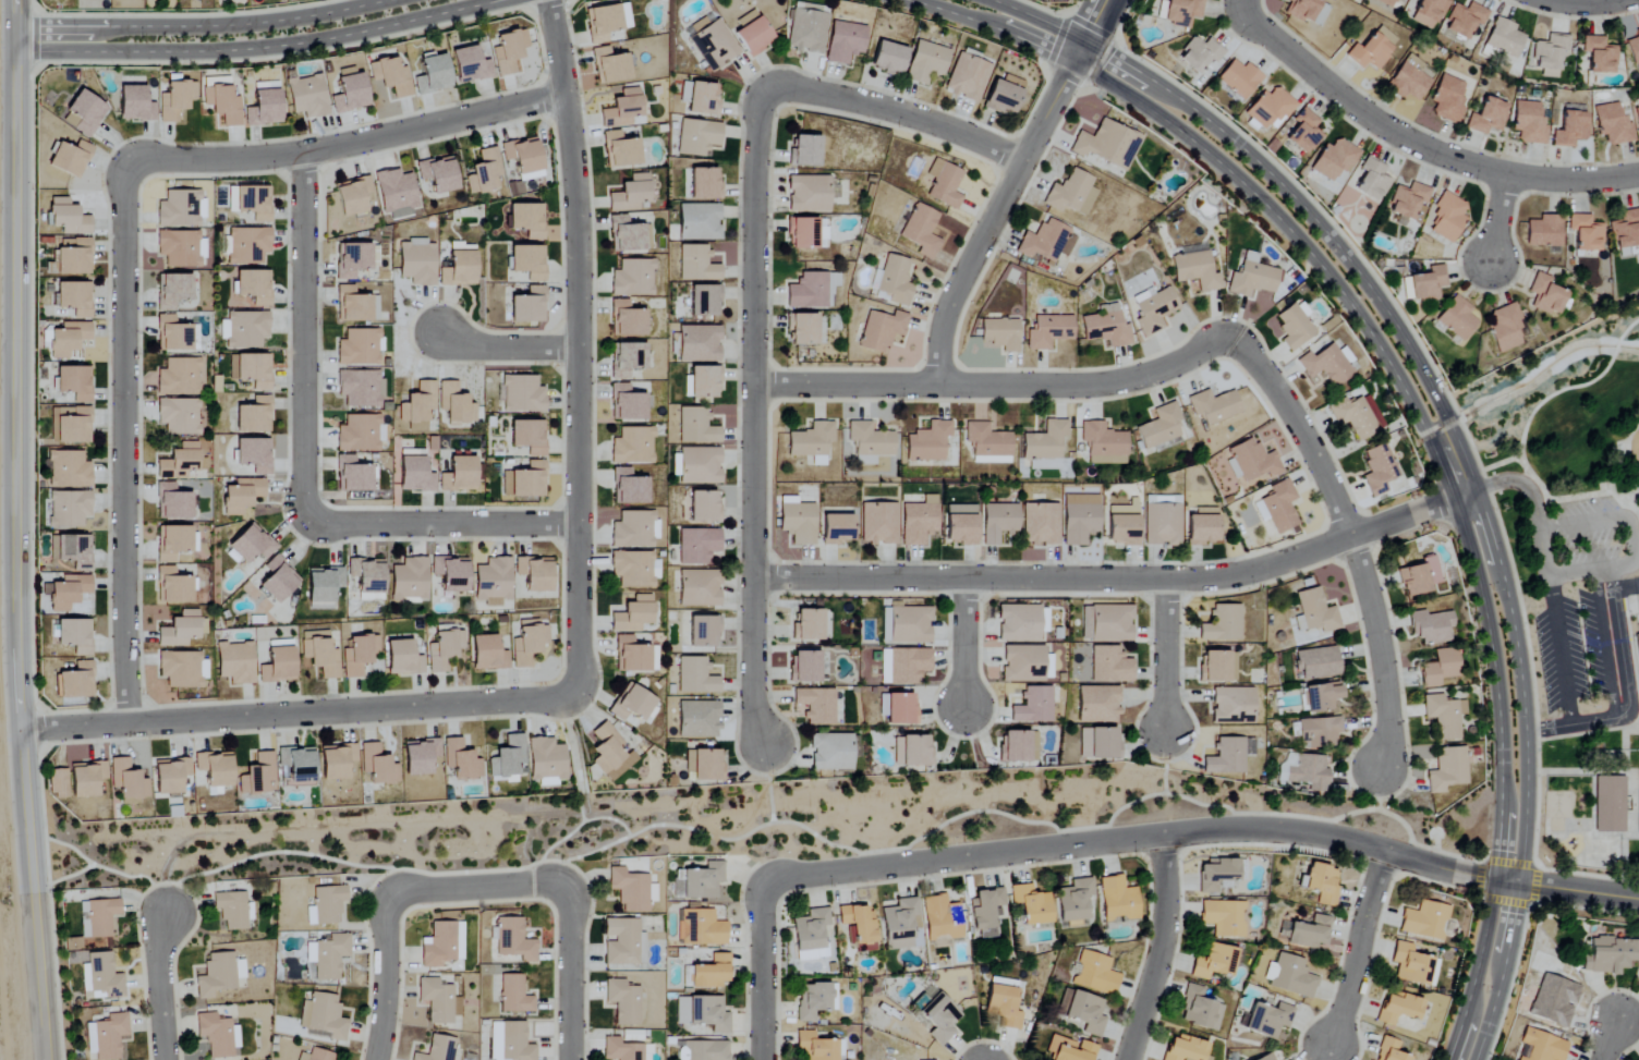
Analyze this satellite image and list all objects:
road: (1581, 2)
building: (1391, 3)
building: (1303, 9)
building: (1182, 12)
building: (1429, 13)
road: (1253, 14)
road: (1017, 21)
building: (1465, 21)
building: (606, 22)
road: (1091, 23)
road: (1089, 26)
building: (806, 32)
building: (752, 33)
road: (231, 38)
building: (1505, 38)
road: (8, 40)
building: (714, 40)
building: (845, 42)
building: (1634, 48)
building: (1372, 49)
building: (509, 53)
building: (1200, 54)
building: (1600, 56)
building: (1550, 57)
building: (888, 58)
building: (925, 63)
building: (469, 66)
building: (609, 66)
building: (432, 75)
building: (390, 77)
building: (967, 78)
building: (1239, 80)
building: (1408, 84)
building: (349, 90)
building: (1003, 96)
building: (306, 97)
building: (700, 98)
building: (1448, 99)
building: (174, 100)
building: (222, 105)
building: (134, 106)
building: (264, 107)
building: (1271, 109)
building: (622, 110)
building: (83, 114)
building: (1637, 115)
building: (1488, 117)
building: (1529, 123)
building: (1612, 124)
building: (1570, 130)
building: (1304, 134)
building: (697, 137)
road: (352, 143)
building: (1106, 145)
road: (1431, 149)
building: (620, 151)
building: (804, 153)
building: (523, 158)
building: (69, 159)
building: (1335, 160)
building: (485, 173)
building: (438, 175)
building: (1373, 181)
building: (704, 184)
building: (945, 184)
building: (396, 194)
building: (1072, 194)
building: (631, 195)
building: (809, 195)
building: (351, 196)
building: (253, 203)
building: (1408, 203)
building: (178, 210)
road: (995, 212)
building: (66, 218)
building: (1448, 218)
building: (526, 220)
road: (1496, 220)
building: (699, 222)
building: (921, 231)
building: (1544, 232)
building: (1586, 233)
building: (1626, 233)
building: (802, 234)
building: (628, 236)
building: (1047, 242)
building: (247, 246)
building: (73, 257)
building: (352, 260)
building: (416, 263)
building: (529, 263)
building: (696, 265)
building: (459, 270)
building: (1195, 271)
building: (1252, 278)
building: (632, 279)
building: (894, 280)
building: (1428, 284)
road: (755, 288)
building: (251, 290)
building: (172, 291)
building: (812, 291)
building: (1546, 295)
building: (73, 298)
building: (704, 302)
building: (354, 306)
building: (529, 307)
building: (1154, 309)
building: (1457, 319)
building: (627, 320)
building: (1106, 327)
building: (1506, 327)
building: (1294, 328)
road: (1626, 329)
building: (244, 330)
building: (802, 330)
building: (881, 331)
building: (1048, 331)
building: (1000, 334)
building: (171, 336)
road: (303, 339)
building: (66, 340)
road: (576, 343)
building: (699, 344)
road: (503, 346)
road: (1617, 348)
building: (357, 349)
building: (627, 361)
building: (1327, 366)
building: (251, 370)
building: (178, 378)
building: (74, 383)
building: (705, 383)
road: (1000, 385)
building: (359, 389)
building: (522, 395)
building: (418, 403)
building: (627, 404)
building: (454, 405)
building: (1214, 407)
building: (178, 416)
building: (253, 417)
building: (1357, 417)
building: (70, 426)
building: (416, 427)
building: (696, 427)
building: (1161, 427)
building: (360, 435)
building: (527, 438)
road: (123, 442)
building: (812, 442)
building: (928, 442)
building: (870, 443)
building: (988, 444)
building: (1104, 444)
building: (632, 447)
building: (1045, 447)
road: (1627, 448)
park: (1565, 452)
building: (254, 455)
road: (1520, 455)
building: (178, 462)
building: (1254, 462)
building: (696, 466)
road: (1491, 468)
building: (1379, 470)
building: (66, 471)
building: (352, 476)
building: (414, 476)
building: (459, 476)
building: (525, 482)
road: (1461, 482)
road: (1532, 485)
building: (628, 488)
building: (241, 496)
road: (1635, 497)
building: (788, 500)
road: (1534, 500)
building: (171, 502)
building: (1278, 508)
building: (68, 509)
building: (703, 509)
road: (1617, 517)
building: (919, 522)
road: (447, 523)
building: (999, 523)
building: (798, 524)
building: (878, 524)
building: (960, 525)
building: (1041, 525)
building: (1122, 525)
building: (1162, 525)
building: (1203, 527)
building: (634, 529)
building: (837, 529)
road: (15, 531)
parking lot: (1586, 533)
building: (173, 541)
building: (251, 544)
road: (1352, 545)
building: (696, 546)
building: (71, 550)
building: (634, 569)
road: (1580, 572)
building: (450, 573)
building: (534, 573)
building: (1419, 576)
building: (366, 577)
road: (1116, 577)
building: (278, 578)
building: (409, 578)
building: (493, 581)
building: (323, 584)
building: (173, 586)
building: (699, 588)
road: (1627, 589)
building: (66, 590)
building: (1315, 612)
building: (632, 614)
building: (1021, 622)
building: (1106, 623)
building: (1222, 623)
building: (808, 624)
building: (910, 624)
building: (885, 625)
building: (1429, 626)
building: (178, 630)
building: (703, 631)
building: (73, 634)
building: (529, 644)
road: (964, 644)
road: (1604, 644)
building: (1637, 645)
building: (442, 649)
road: (1561, 650)
building: (319, 653)
parking lot: (1571, 653)
building: (359, 654)
building: (486, 654)
building: (634, 655)
road: (1166, 656)
building: (402, 658)
building: (234, 662)
building: (1316, 662)
building: (277, 663)
building: (1027, 663)
building: (1110, 665)
building: (804, 666)
building: (903, 666)
building: (1218, 666)
building: (1440, 668)
building: (181, 669)
building: (694, 677)
building: (75, 681)
building: (1322, 696)
road: (1629, 699)
building: (632, 703)
building: (816, 705)
building: (1033, 705)
building: (1098, 705)
building: (1233, 706)
building: (901, 708)
road: (299, 714)
building: (1444, 716)
building: (697, 719)
building: (1319, 731)
building: (1098, 743)
building: (1019, 746)
building: (912, 751)
building: (831, 752)
building: (610, 753)
building: (1229, 756)
building: (417, 757)
road: (574, 759)
building: (461, 760)
building: (508, 760)
building: (335, 762)
building: (546, 762)
building: (704, 764)
building: (296, 765)
building: (377, 765)
road: (1166, 765)
building: (214, 768)
building: (1449, 769)
building: (1310, 772)
building: (169, 775)
building: (257, 775)
building: (85, 778)
building: (58, 782)
building: (126, 782)
road: (770, 787)
road: (1379, 792)
building: (1610, 804)
road: (582, 824)
park: (705, 825)
road: (798, 825)
road: (1205, 831)
road: (882, 858)
road: (88, 863)
road: (542, 873)
building: (1216, 875)
road: (1587, 875)
building: (702, 881)
building: (1322, 884)
building: (630, 890)
road: (393, 894)
road: (167, 899)
building: (1075, 900)
building: (1118, 900)
road: (1530, 903)
building: (1031, 904)
building: (325, 905)
road: (1585, 909)
building: (231, 910)
building: (986, 911)
building: (97, 917)
building: (1224, 917)
building: (942, 918)
building: (1425, 921)
building: (900, 924)
building: (860, 926)
building: (701, 928)
building: (1310, 934)
building: (810, 935)
building: (513, 940)
building: (622, 941)
building: (442, 945)
road: (1359, 947)
road: (1161, 950)
building: (1610, 955)
building: (327, 957)
building: (1214, 962)
building: (712, 972)
road: (761, 972)
road: (567, 973)
building: (217, 974)
building: (1095, 974)
building: (101, 976)
building: (1290, 976)
road: (159, 986)
building: (513, 995)
building: (436, 1000)
building: (814, 1000)
building: (624, 1002)
building: (1003, 1003)
building: (1398, 1009)
building: (1200, 1010)
building: (1082, 1011)
building: (707, 1013)
building: (323, 1015)
building: (939, 1018)
building: (1268, 1020)
building: (217, 1035)
building: (106, 1036)
road: (1608, 1040)
building: (510, 1041)
building: (1542, 1046)
building: (813, 1047)
building: (1185, 1048)
building: (437, 1049)
building: (1069, 1049)
building: (621, 1050)
building: (703, 1050)
building: (1389, 1050)
building: (316, 1055)
building: (1266, 1057)

